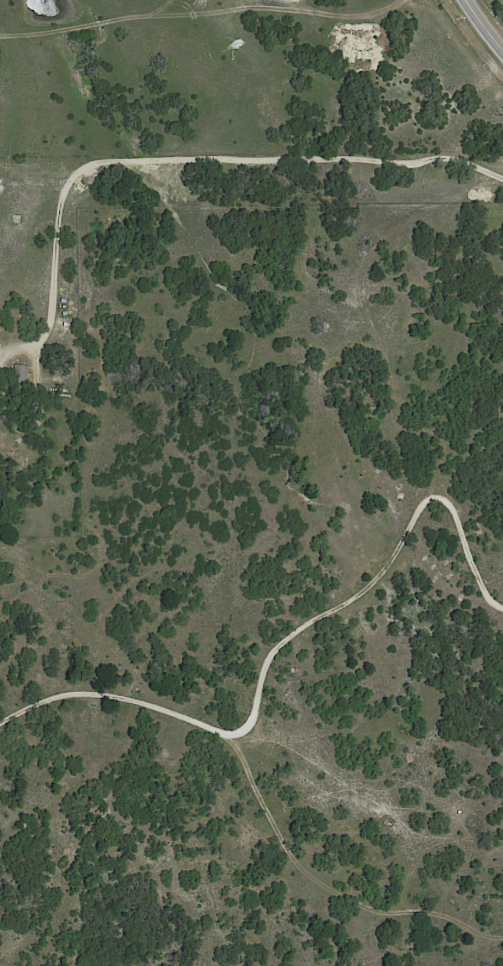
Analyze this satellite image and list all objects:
road: (486, 22)
road: (200, 159)
building: (18, 375)
building: (65, 388)

